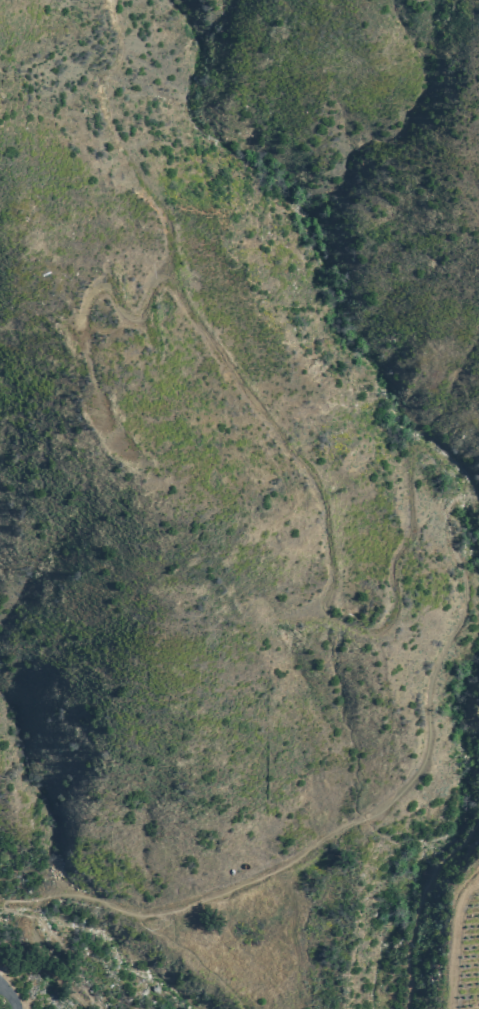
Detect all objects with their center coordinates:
road: (292, 453)
road: (367, 808)
road: (419, 902)
road: (65, 962)
road: (49, 966)
road: (8, 996)

